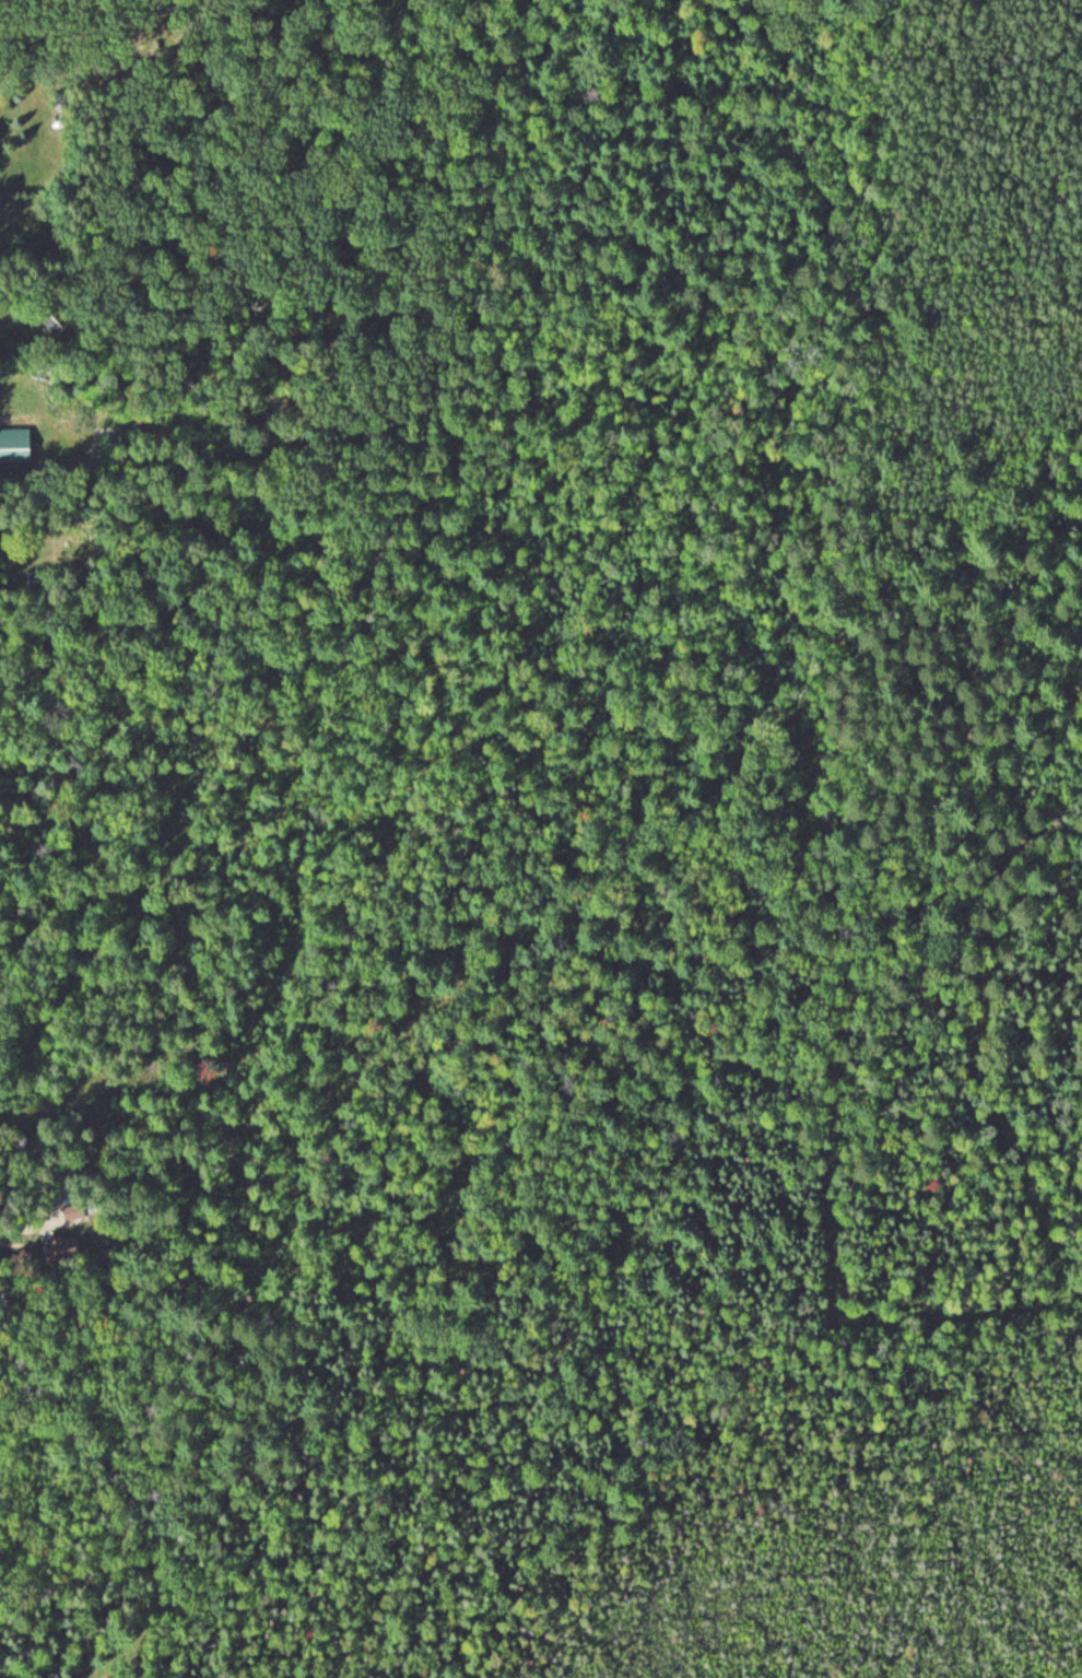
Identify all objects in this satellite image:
building: (0, 559)

